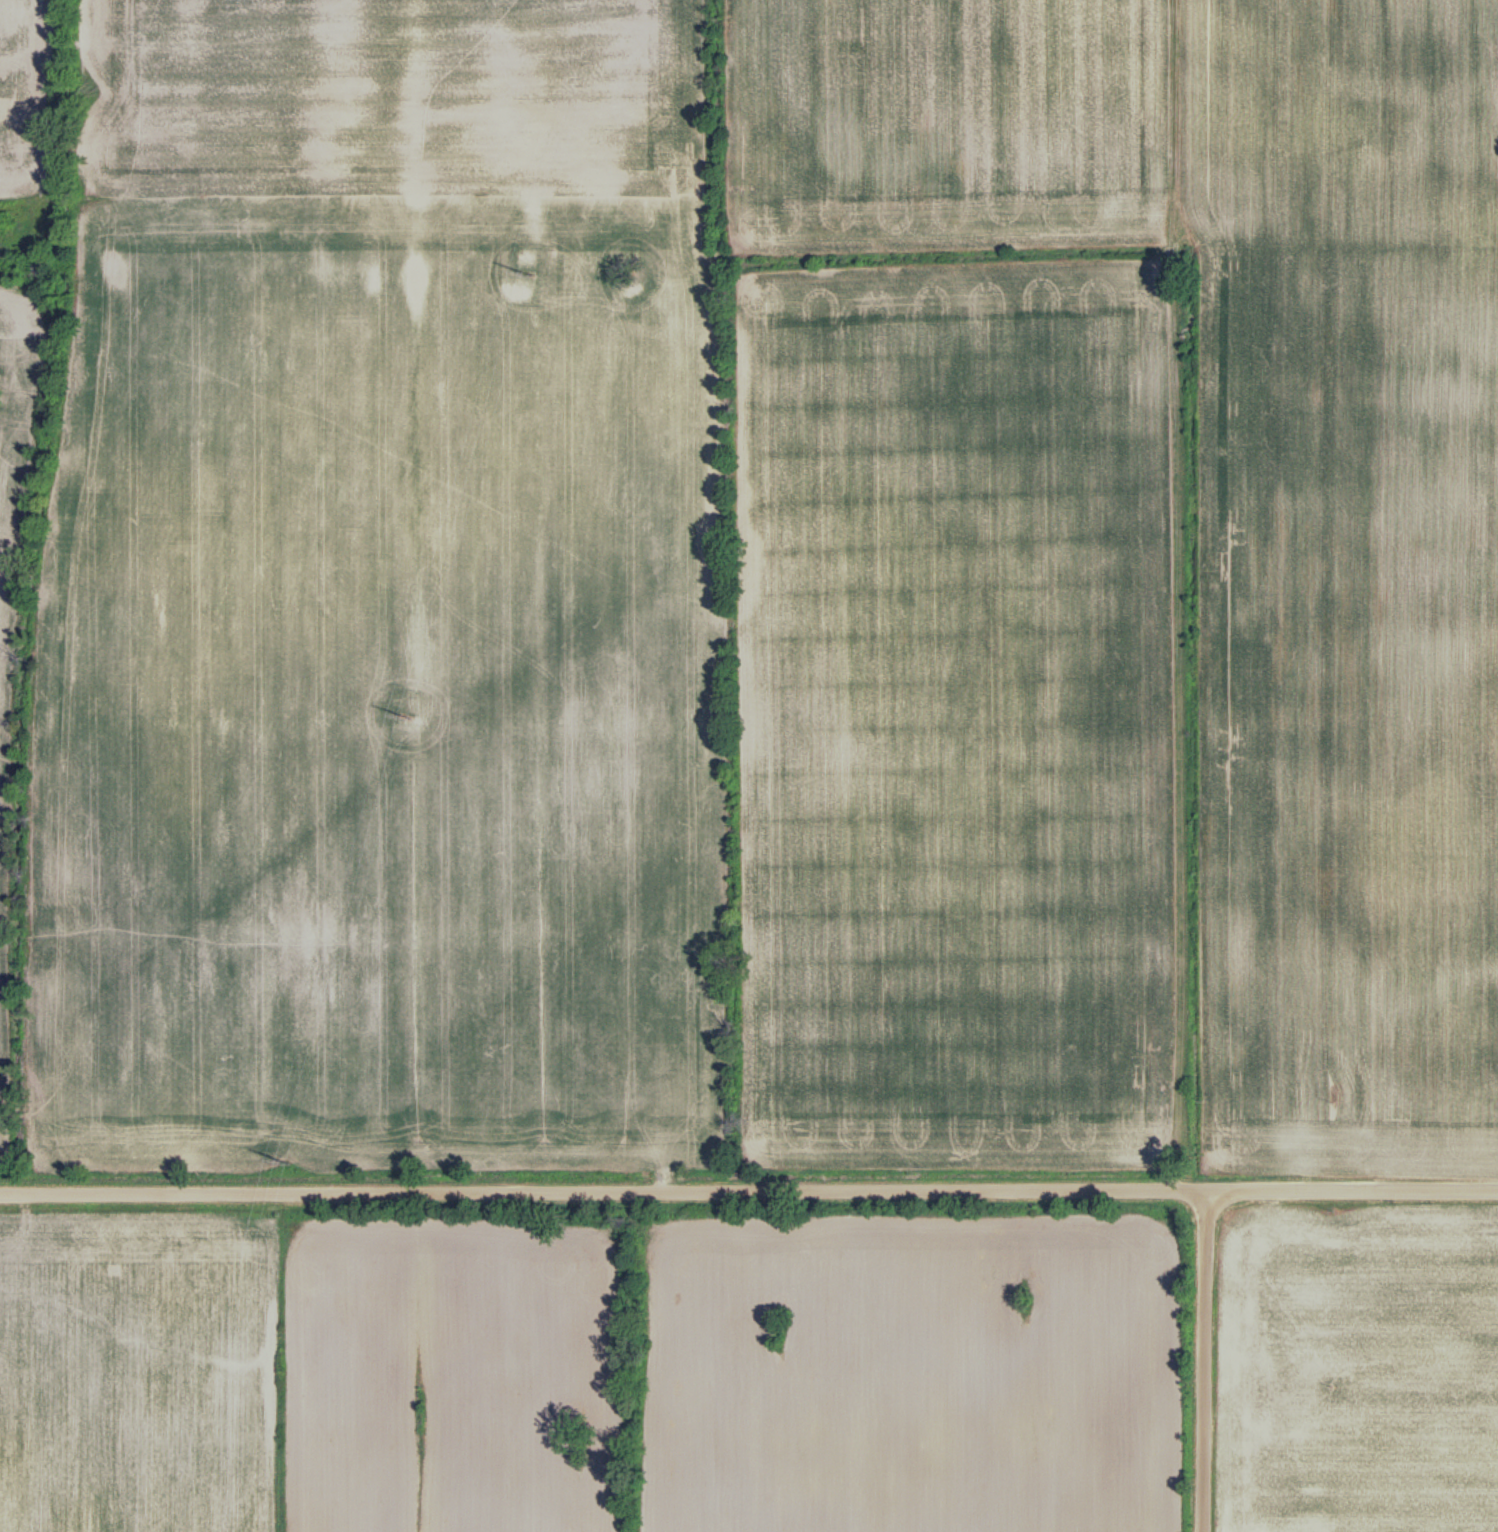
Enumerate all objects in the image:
power tower: (522, 273)
power tower: (401, 722)
power tower: (282, 1159)
road: (748, 1199)
road: (1196, 1369)

